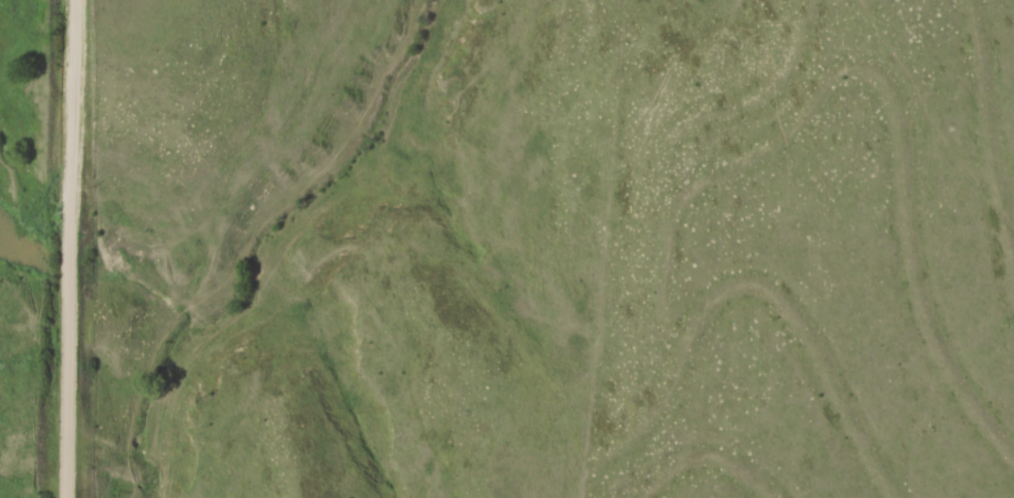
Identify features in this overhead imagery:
road: (69, 248)

